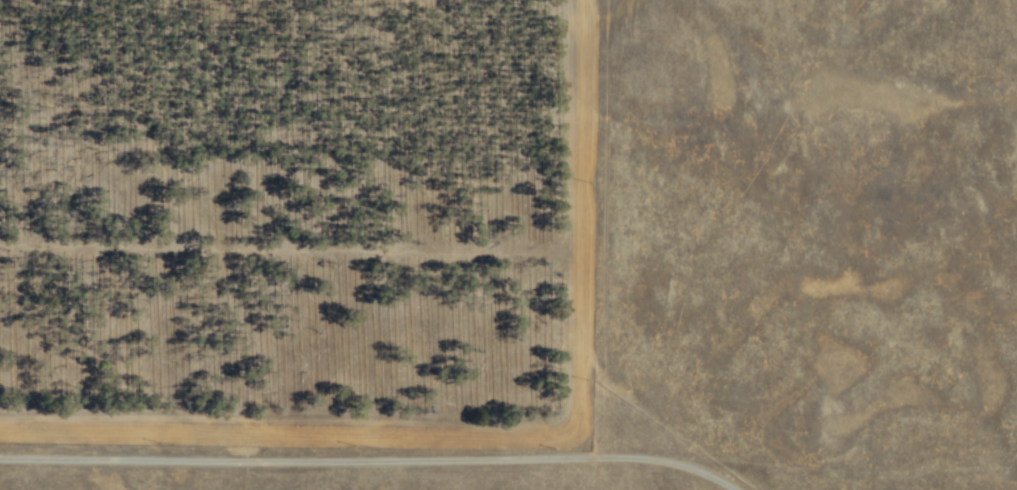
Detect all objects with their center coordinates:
road: (604, 228)
road: (501, 431)
road: (583, 441)
road: (298, 461)
road: (668, 462)

